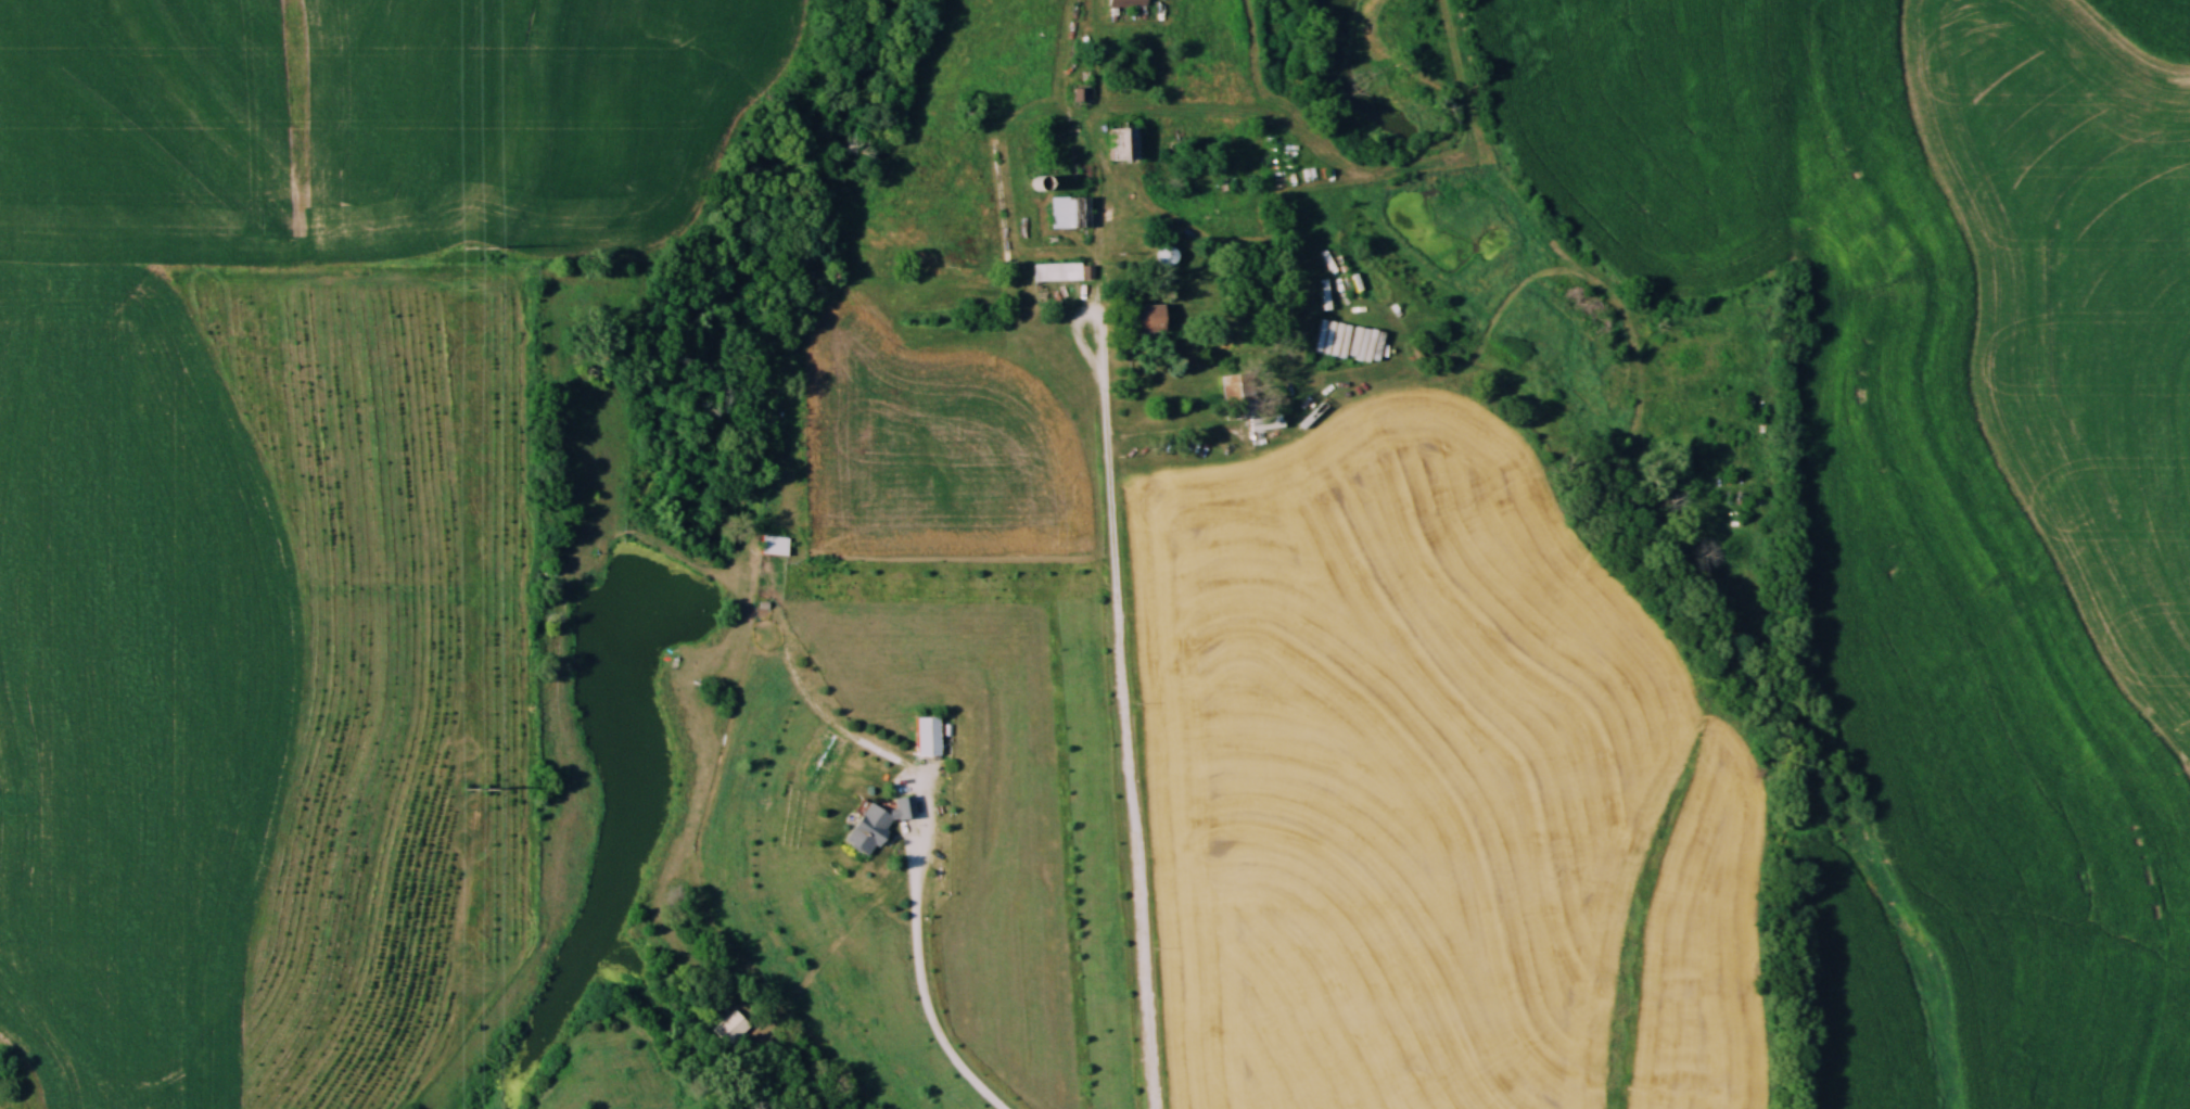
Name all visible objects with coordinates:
building: (1123, 144)
building: (1062, 212)
power tower: (476, 245)
building: (1056, 271)
building: (1149, 318)
road: (1159, 430)
building: (774, 546)
road: (1123, 710)
building: (927, 737)
power tower: (478, 792)
building: (877, 825)
road: (919, 987)

